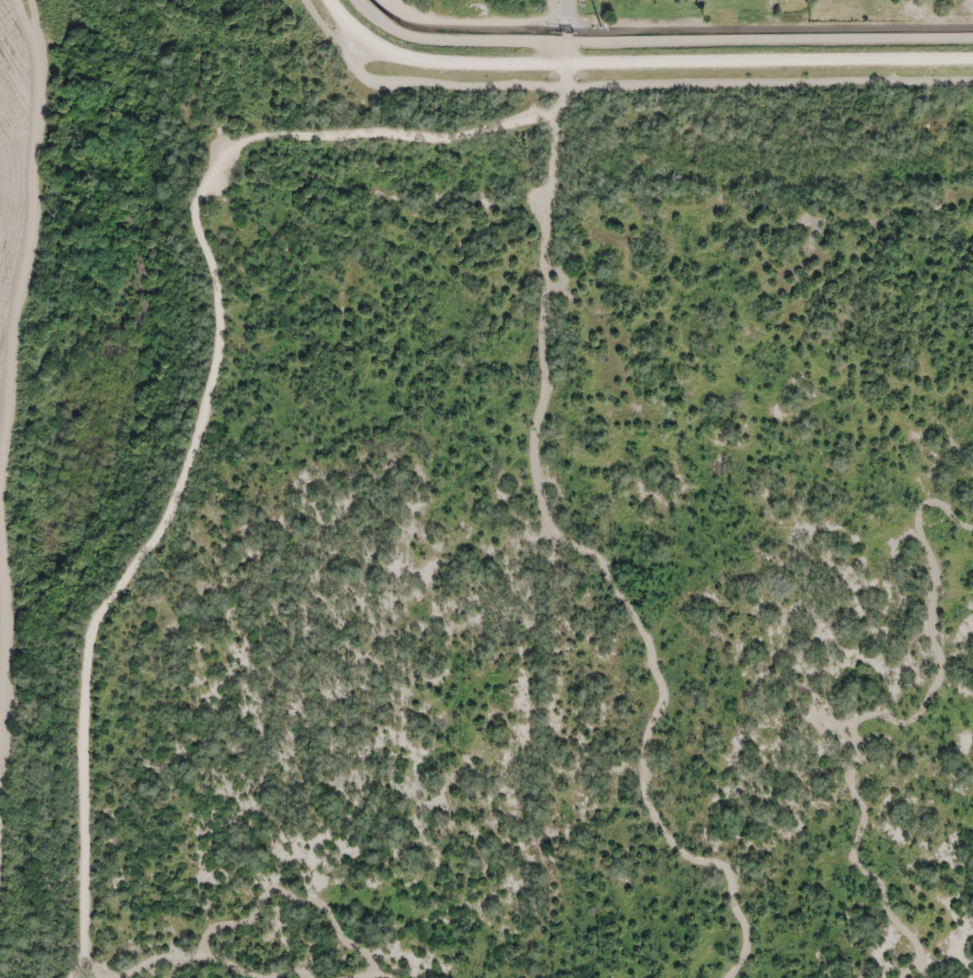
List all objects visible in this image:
road: (568, 10)
road: (564, 43)
road: (636, 66)
crop: (14, 145)
road: (208, 408)
road: (584, 551)
crop: (4, 590)
road: (885, 718)
road: (291, 897)
road: (190, 957)
road: (93, 969)
road: (295, 976)

